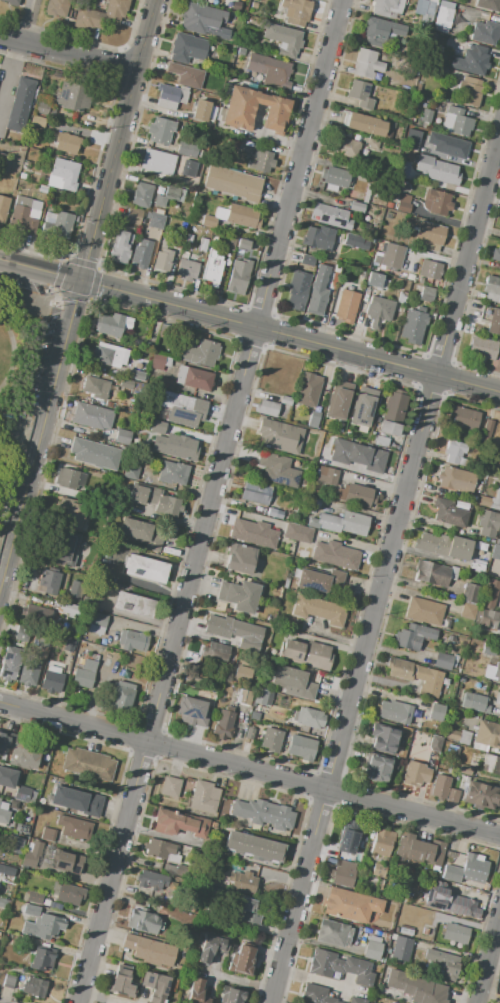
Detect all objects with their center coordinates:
building: (200, 0)
building: (10, 2)
building: (240, 3)
building: (252, 5)
building: (426, 5)
building: (488, 5)
building: (387, 7)
building: (57, 8)
building: (296, 11)
building: (233, 15)
building: (101, 16)
building: (444, 17)
building: (200, 19)
building: (427, 19)
building: (380, 32)
building: (484, 32)
building: (283, 39)
building: (182, 48)
building: (241, 52)
road: (68, 53)
building: (471, 60)
building: (366, 63)
building: (267, 70)
building: (186, 75)
building: (418, 86)
building: (470, 90)
building: (360, 94)
road: (129, 96)
building: (170, 96)
building: (72, 97)
building: (20, 106)
building: (43, 108)
building: (254, 110)
building: (201, 111)
building: (426, 115)
building: (40, 122)
building: (457, 122)
building: (366, 124)
building: (160, 130)
road: (271, 136)
building: (396, 136)
building: (412, 138)
building: (67, 143)
building: (372, 144)
building: (233, 145)
building: (342, 146)
building: (452, 147)
building: (186, 149)
building: (13, 155)
building: (261, 161)
building: (158, 162)
building: (25, 164)
building: (7, 166)
building: (187, 168)
building: (437, 169)
building: (401, 170)
building: (196, 172)
building: (362, 174)
building: (63, 175)
building: (23, 176)
building: (335, 177)
building: (232, 183)
building: (141, 195)
building: (169, 196)
building: (436, 203)
building: (401, 204)
building: (388, 205)
building: (356, 207)
building: (4, 208)
building: (25, 214)
building: (238, 215)
building: (132, 216)
building: (49, 217)
building: (330, 217)
building: (153, 220)
building: (208, 222)
building: (181, 226)
building: (58, 227)
building: (371, 234)
building: (318, 237)
building: (429, 237)
building: (187, 239)
building: (355, 242)
building: (177, 244)
building: (231, 244)
building: (202, 246)
building: (244, 246)
building: (120, 247)
building: (139, 253)
building: (496, 253)
building: (184, 255)
building: (392, 255)
road: (469, 258)
building: (306, 260)
building: (162, 261)
building: (212, 268)
building: (186, 270)
building: (430, 270)
building: (238, 276)
building: (410, 277)
building: (373, 280)
traffic signals: (81, 283)
building: (491, 285)
building: (297, 290)
building: (317, 292)
building: (426, 294)
building: (400, 299)
building: (346, 306)
building: (379, 311)
road: (34, 316)
road: (219, 318)
building: (493, 321)
building: (114, 326)
building: (412, 327)
building: (136, 341)
building: (481, 349)
building: (204, 353)
road: (16, 355)
building: (108, 355)
building: (499, 356)
building: (157, 362)
building: (138, 369)
park: (20, 378)
building: (199, 380)
building: (126, 383)
road: (469, 383)
building: (166, 385)
building: (95, 388)
building: (308, 388)
road: (39, 390)
road: (51, 397)
building: (285, 399)
building: (338, 400)
building: (108, 404)
building: (363, 406)
building: (394, 406)
building: (266, 408)
building: (159, 412)
building: (92, 416)
building: (193, 416)
building: (312, 419)
building: (464, 419)
road: (14, 426)
building: (128, 427)
building: (157, 427)
building: (488, 428)
building: (389, 429)
building: (280, 436)
building: (122, 437)
building: (381, 441)
building: (178, 447)
building: (455, 453)
building: (94, 454)
building: (358, 455)
building: (278, 470)
building: (131, 472)
building: (172, 473)
building: (326, 475)
building: (70, 478)
building: (456, 480)
building: (255, 493)
building: (355, 495)
building: (151, 498)
building: (481, 500)
building: (495, 500)
road: (208, 501)
building: (313, 502)
building: (275, 513)
building: (75, 515)
building: (451, 515)
building: (341, 523)
building: (487, 525)
building: (139, 532)
building: (253, 534)
building: (297, 534)
building: (73, 540)
building: (491, 541)
building: (475, 545)
building: (445, 547)
building: (496, 552)
building: (56, 553)
building: (337, 556)
building: (241, 560)
building: (89, 565)
building: (308, 565)
building: (137, 566)
building: (432, 575)
building: (317, 580)
building: (49, 581)
building: (75, 593)
building: (470, 593)
building: (488, 594)
building: (238, 595)
building: (125, 601)
building: (318, 610)
building: (72, 611)
building: (468, 611)
building: (424, 612)
building: (36, 614)
building: (487, 619)
building: (97, 624)
building: (233, 629)
building: (22, 634)
building: (412, 637)
building: (132, 640)
building: (67, 645)
building: (488, 649)
building: (218, 651)
building: (305, 653)
building: (445, 660)
building: (10, 663)
building: (400, 669)
building: (240, 671)
building: (492, 672)
building: (29, 673)
building: (83, 675)
building: (205, 675)
building: (51, 680)
building: (462, 680)
building: (294, 681)
building: (429, 681)
building: (485, 686)
road: (353, 688)
building: (122, 695)
building: (245, 698)
building: (264, 698)
building: (499, 702)
building: (474, 703)
building: (192, 712)
building: (394, 712)
building: (436, 713)
building: (308, 718)
building: (225, 723)
building: (250, 735)
building: (487, 735)
building: (459, 737)
building: (272, 739)
building: (384, 739)
building: (435, 743)
building: (301, 747)
building: (21, 751)
building: (76, 763)
building: (479, 764)
building: (377, 767)
building: (102, 769)
road: (249, 769)
building: (415, 773)
building: (7, 778)
building: (171, 787)
building: (444, 789)
building: (22, 794)
building: (481, 795)
building: (78, 796)
building: (204, 797)
building: (76, 806)
building: (252, 811)
building: (280, 817)
building: (3, 818)
building: (178, 823)
building: (21, 829)
building: (74, 829)
building: (48, 835)
building: (348, 839)
building: (383, 843)
building: (14, 845)
building: (253, 847)
building: (166, 851)
building: (427, 852)
building: (30, 860)
building: (69, 863)
building: (7, 870)
building: (475, 870)
building: (344, 875)
building: (452, 875)
building: (158, 881)
building: (244, 884)
building: (70, 896)
building: (34, 898)
building: (447, 901)
building: (3, 903)
building: (468, 903)
building: (351, 906)
building: (243, 907)
building: (31, 911)
building: (142, 922)
building: (45, 928)
building: (432, 932)
building: (455, 933)
building: (332, 935)
building: (25, 942)
building: (210, 948)
building: (402, 949)
building: (372, 950)
building: (150, 951)
building: (434, 956)
building: (243, 959)
building: (43, 961)
road: (490, 962)
building: (340, 967)
road: (494, 968)
building: (448, 969)
building: (8, 981)
building: (122, 984)
building: (35, 988)
building: (416, 988)
building: (155, 989)
building: (199, 992)
building: (317, 995)
building: (232, 996)
building: (356, 1000)

